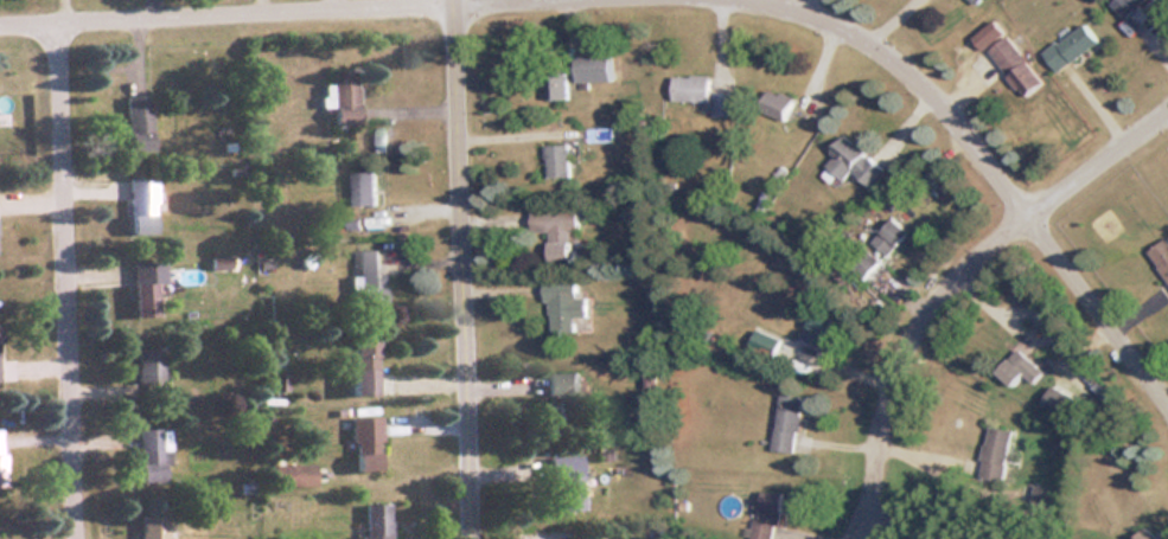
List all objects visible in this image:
building: (972, 1)
building: (1129, 4)
road: (184, 9)
building: (1068, 47)
building: (1006, 58)
building: (591, 66)
building: (554, 85)
building: (688, 88)
building: (340, 96)
building: (721, 103)
building: (773, 103)
building: (134, 122)
building: (556, 160)
building: (854, 162)
road: (1000, 173)
building: (363, 187)
building: (139, 205)
building: (554, 226)
building: (887, 237)
building: (1160, 256)
building: (857, 261)
road: (465, 269)
road: (74, 277)
building: (365, 277)
road: (946, 277)
building: (142, 284)
building: (561, 304)
building: (813, 328)
building: (761, 342)
building: (145, 366)
building: (359, 366)
building: (1011, 367)
building: (276, 379)
building: (559, 385)
building: (783, 422)
building: (362, 443)
building: (993, 454)
building: (147, 455)
building: (288, 474)
building: (564, 480)
building: (764, 514)
building: (374, 520)
building: (149, 526)
building: (1143, 534)

